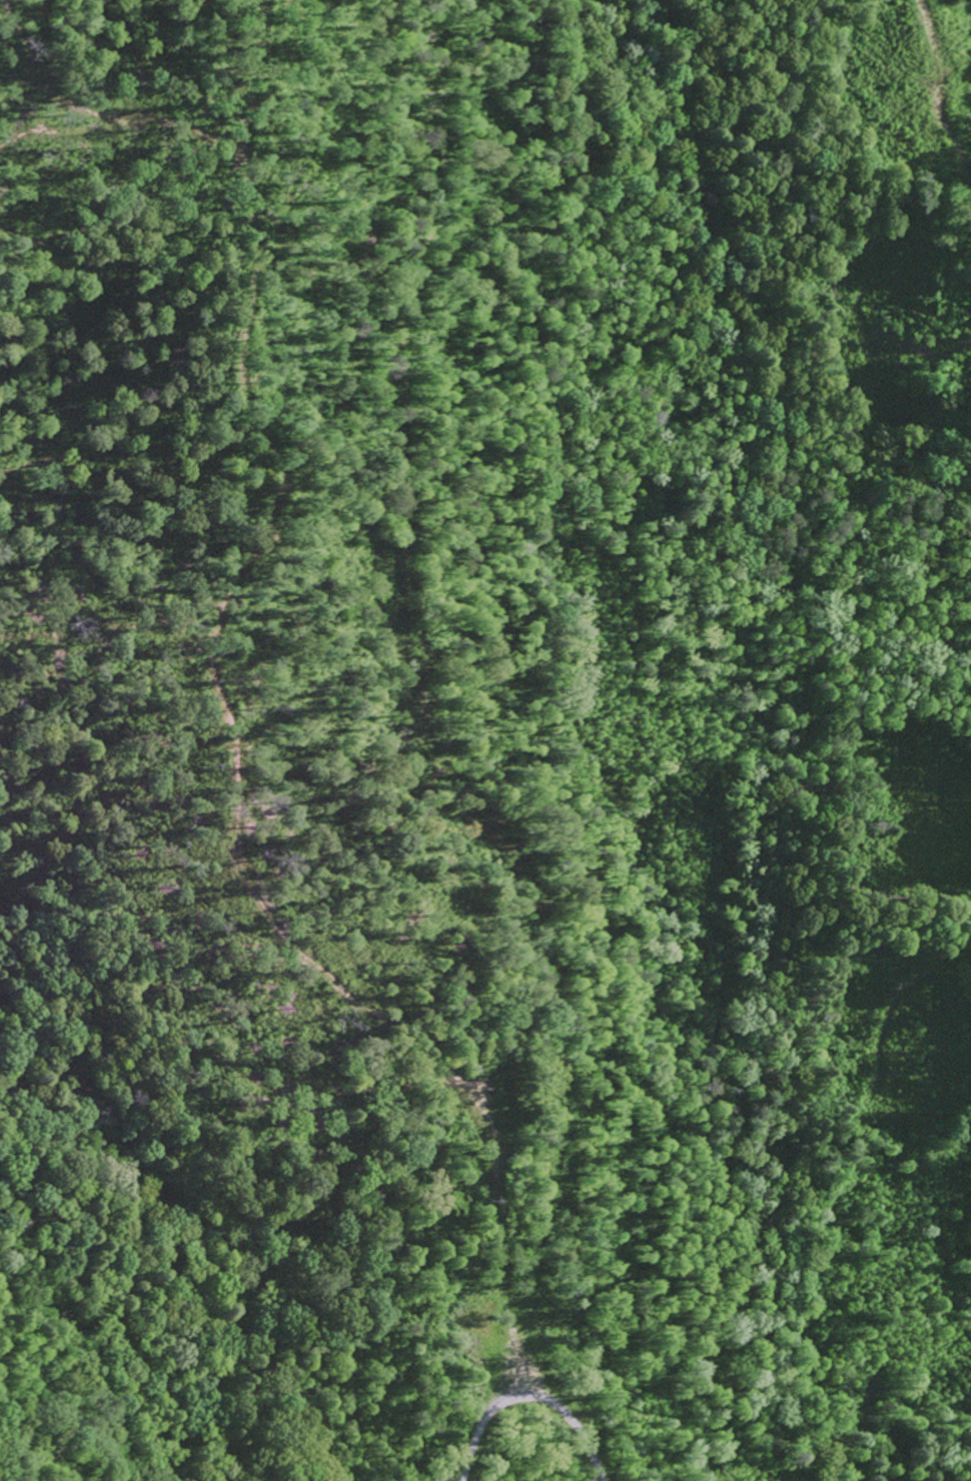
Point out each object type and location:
road: (205, 1224)
road: (492, 1418)
road: (569, 1442)

